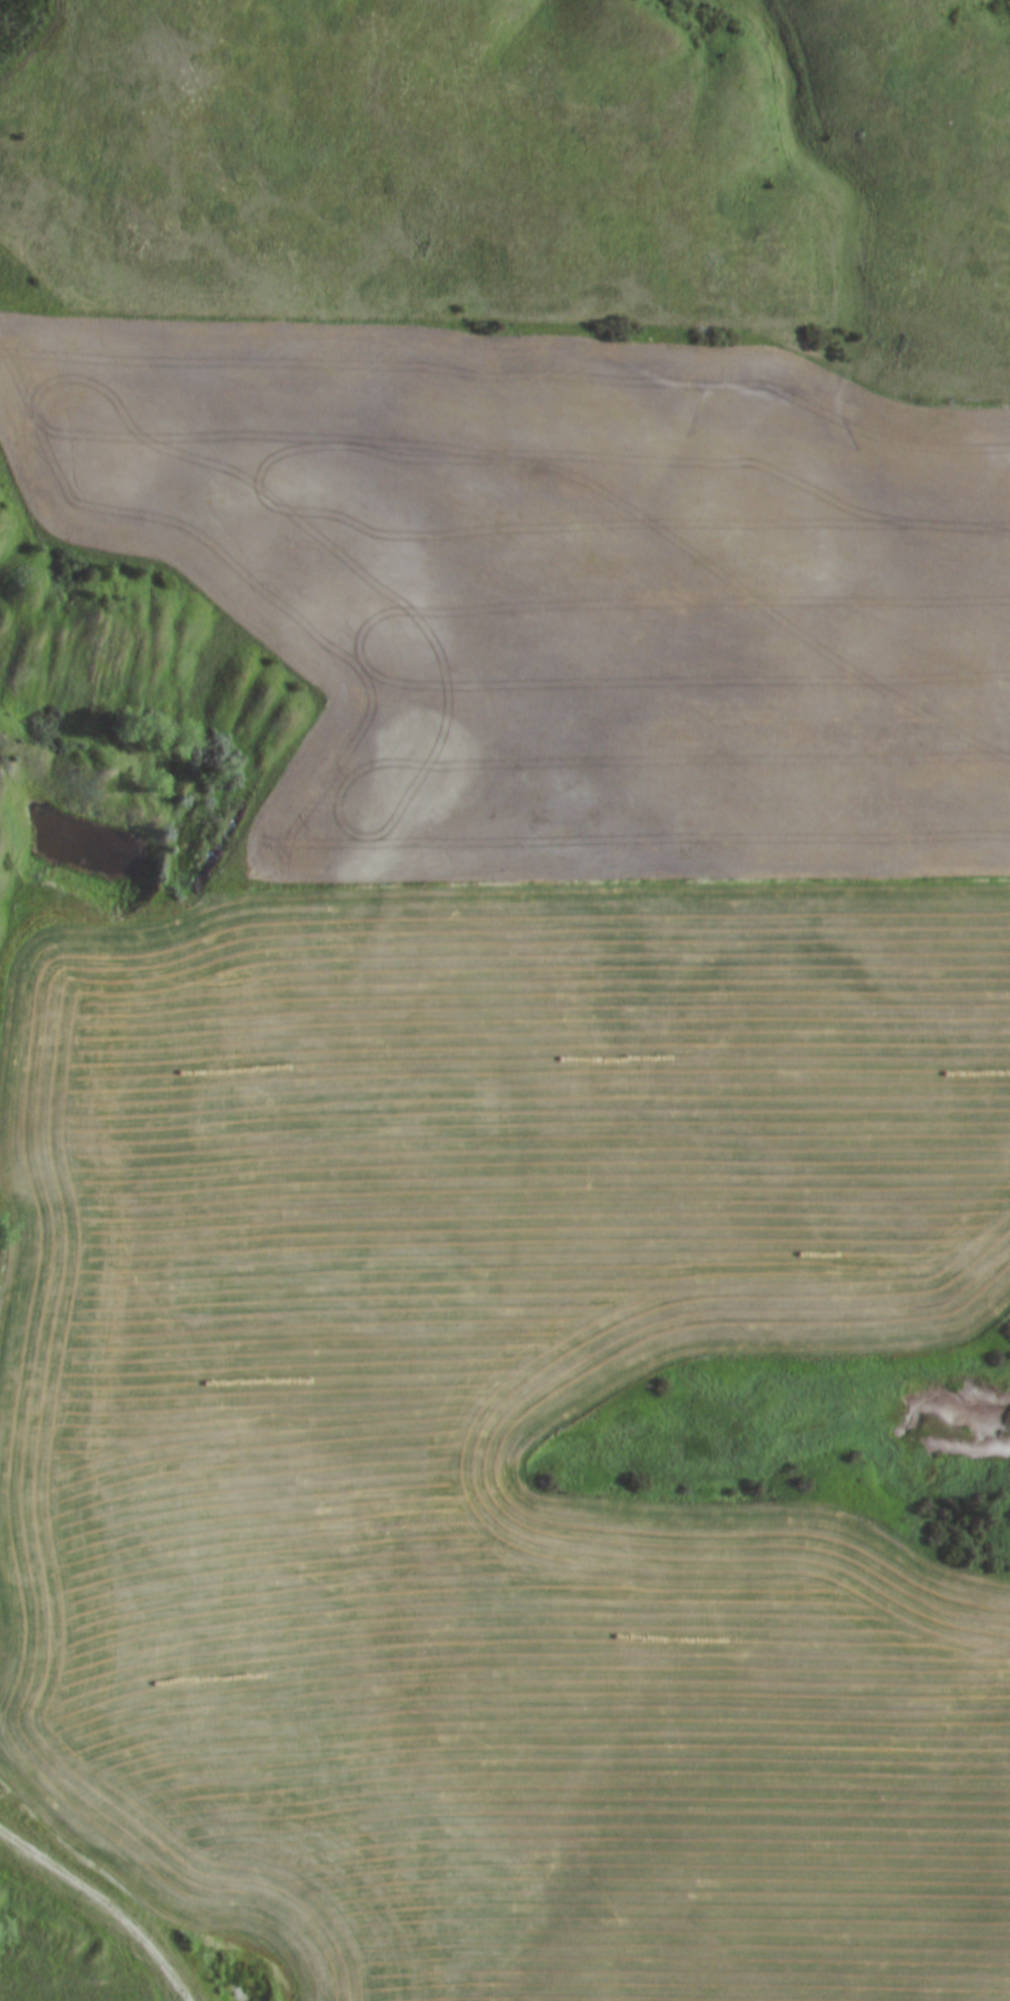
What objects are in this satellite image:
road: (109, 1900)
quarry: (70, 1927)

